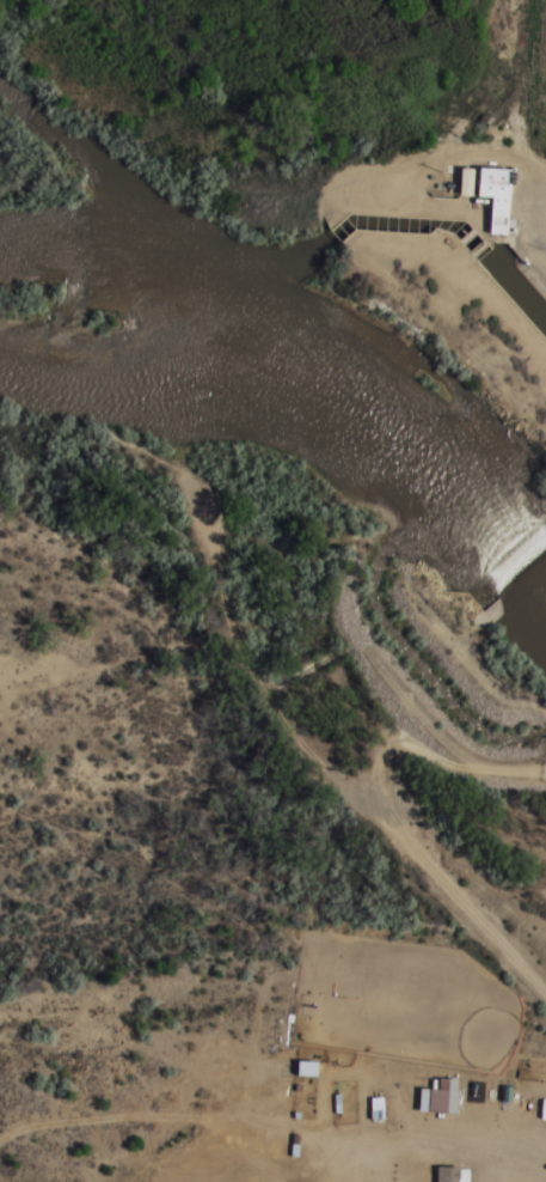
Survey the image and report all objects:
road: (520, 165)
building: (467, 181)
building: (496, 195)
river: (293, 429)
dam: (513, 579)
road: (394, 821)
building: (447, 1174)

